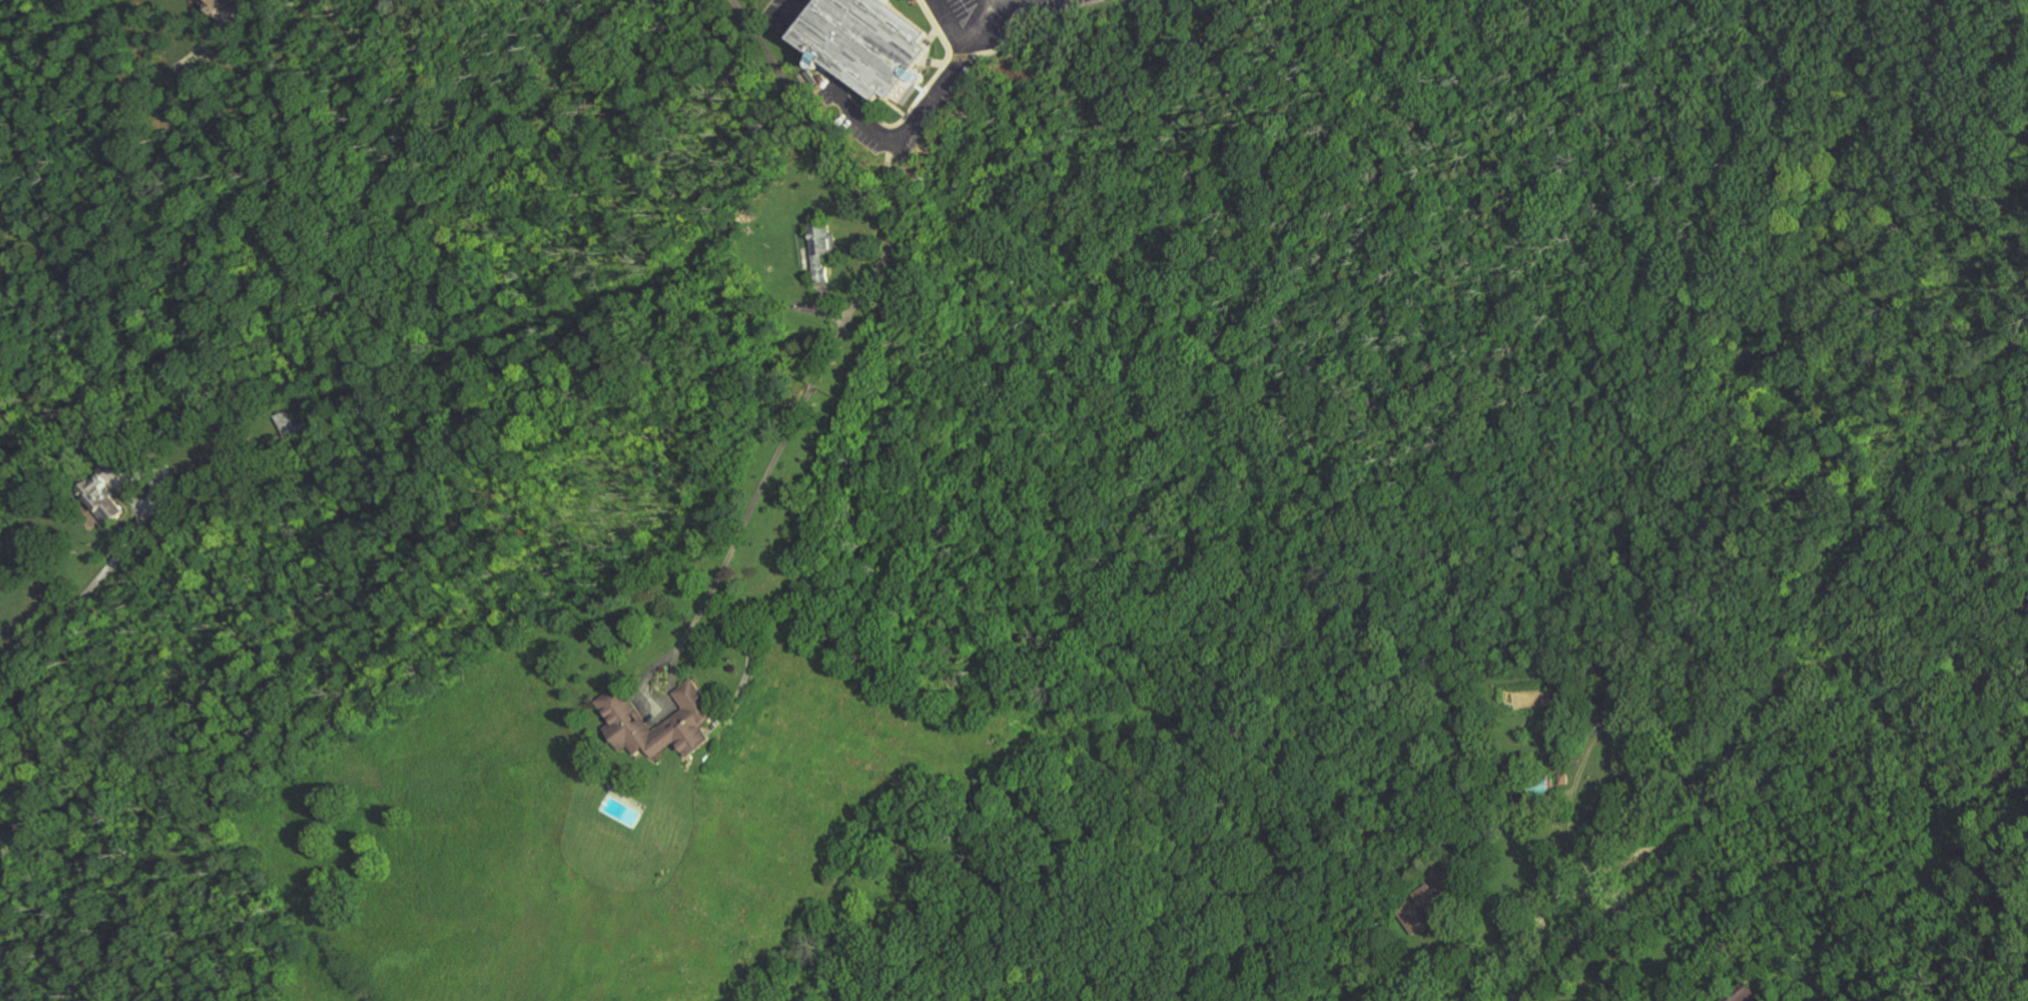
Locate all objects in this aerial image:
flagpole: (918, 3)
building: (216, 4)
road: (1002, 5)
park: (424, 18)
building: (867, 36)
road: (965, 41)
road: (865, 120)
road: (890, 184)
building: (821, 249)
road: (871, 281)
building: (290, 424)
road: (136, 472)
building: (101, 495)
road: (80, 600)
road: (698, 616)
building: (690, 719)
road: (1569, 828)
road: (1756, 843)
building: (1440, 878)
building: (1420, 909)
road: (1451, 947)
building: (1741, 994)

